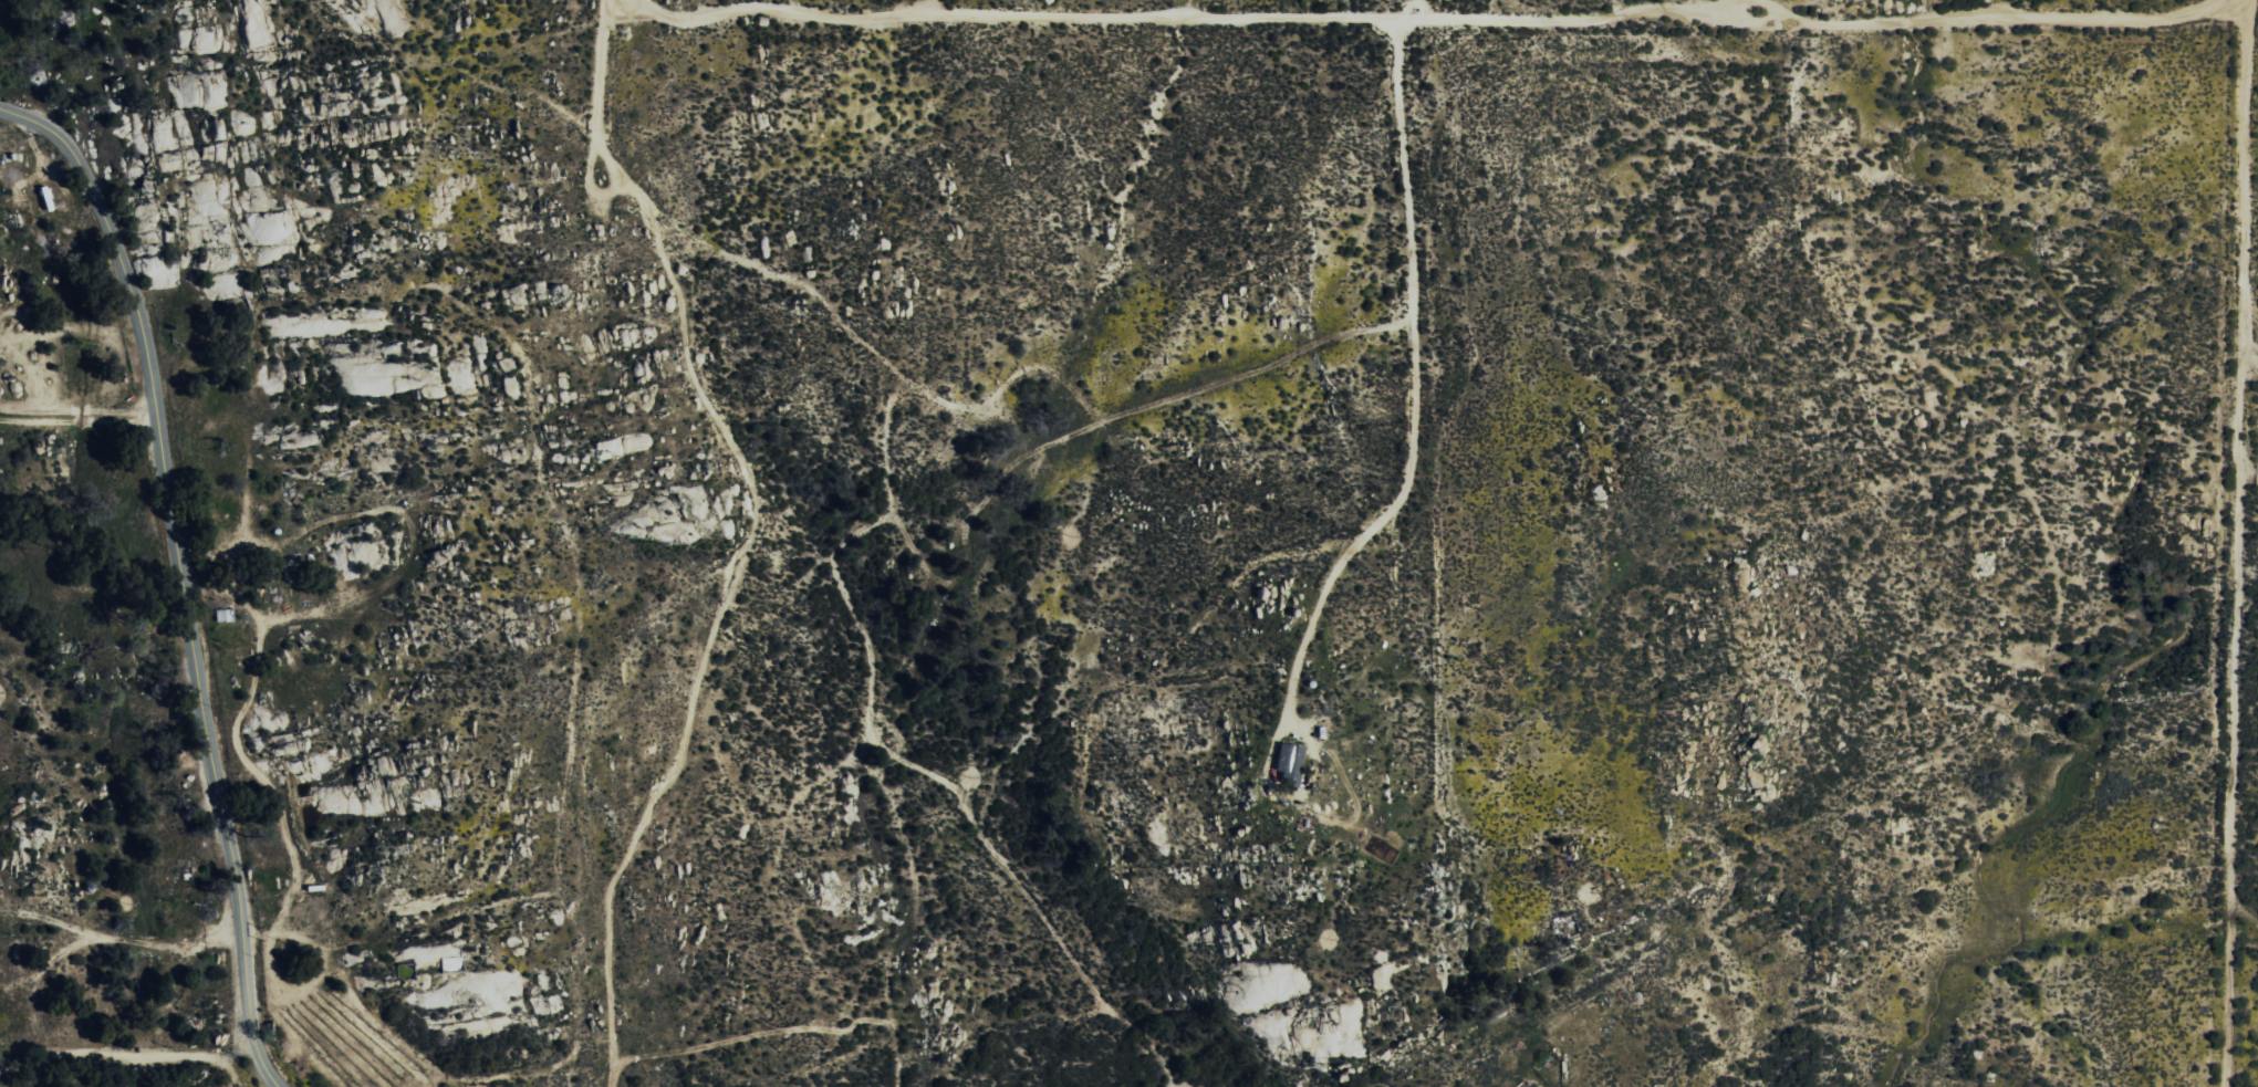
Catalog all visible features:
road: (181, 575)
building: (222, 615)
building: (1288, 764)
road: (91, 959)
road: (44, 1021)

